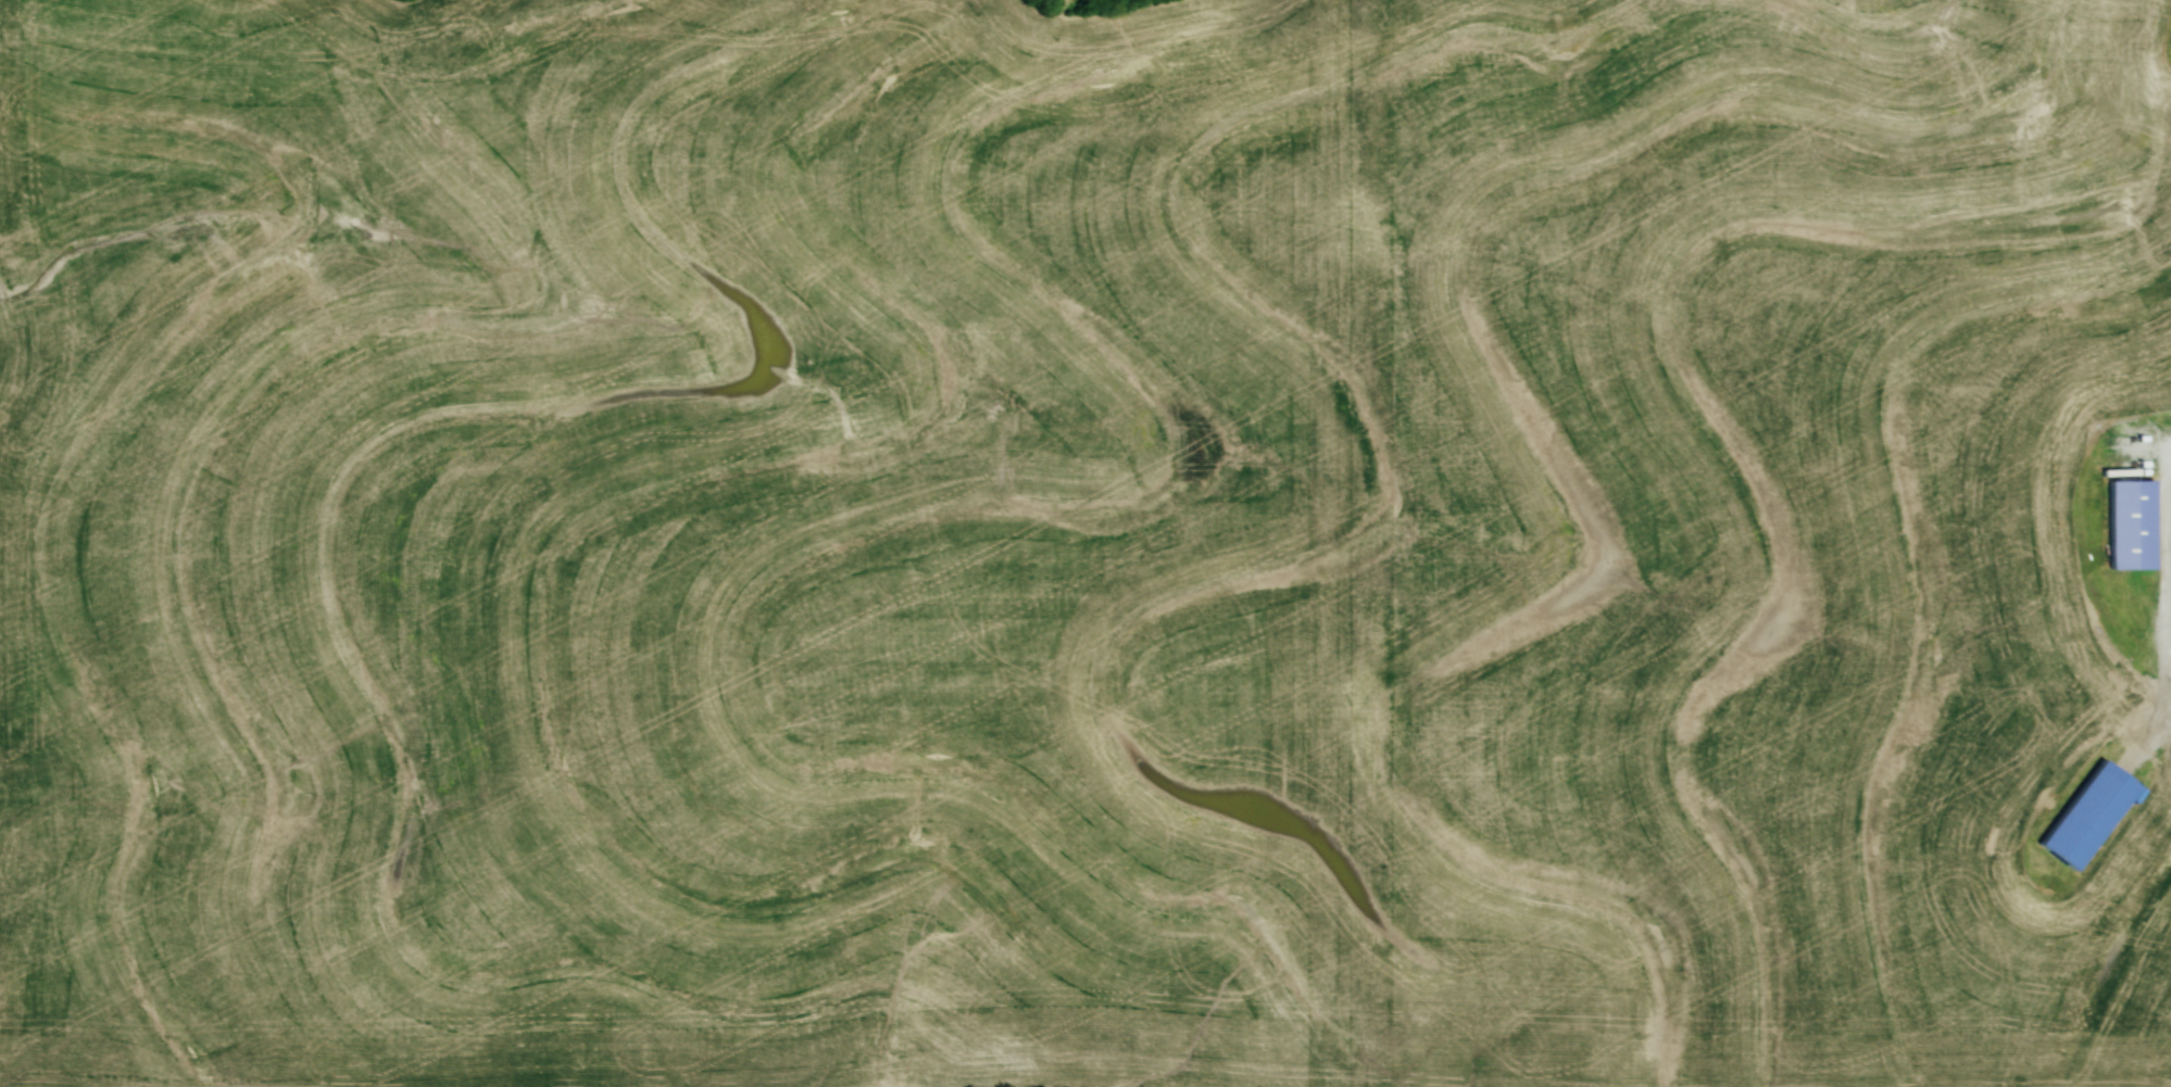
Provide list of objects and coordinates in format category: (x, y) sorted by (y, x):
building: (2128, 523)
building: (2080, 816)

